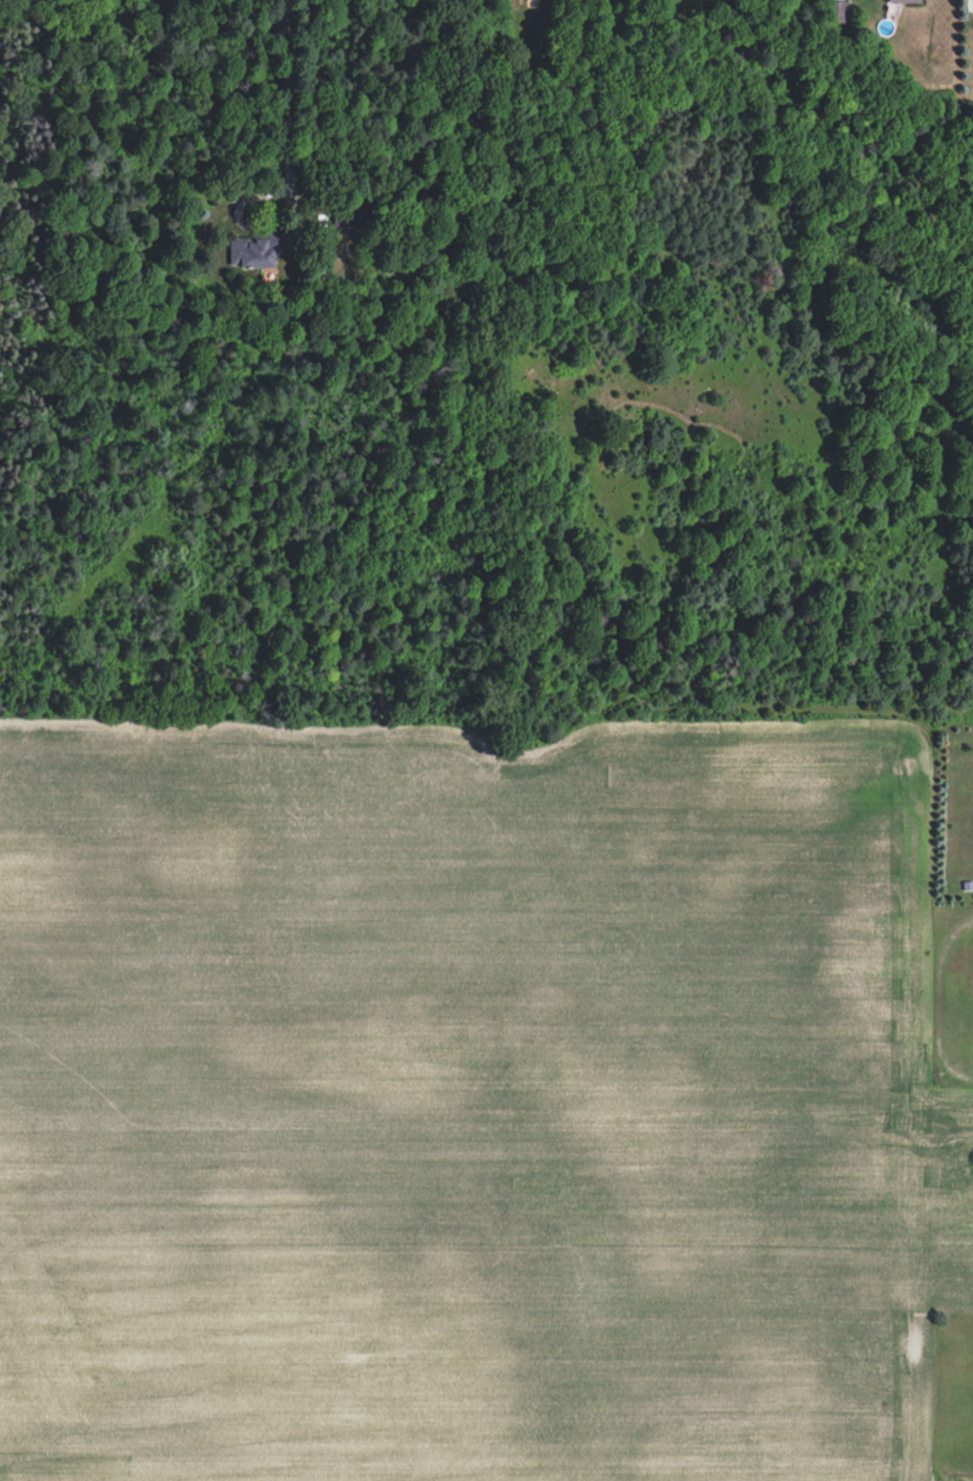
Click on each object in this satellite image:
building: (903, 1)
building: (837, 11)
building: (253, 250)

